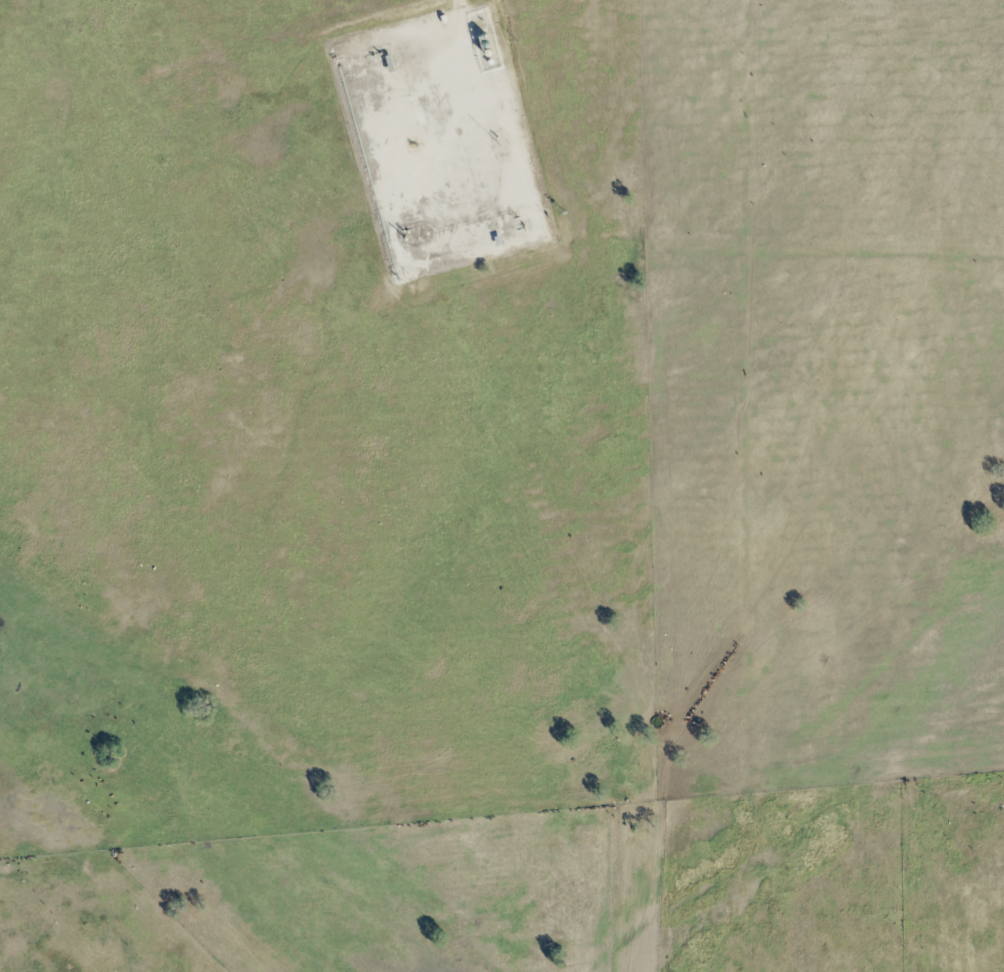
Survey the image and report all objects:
road: (470, 63)

